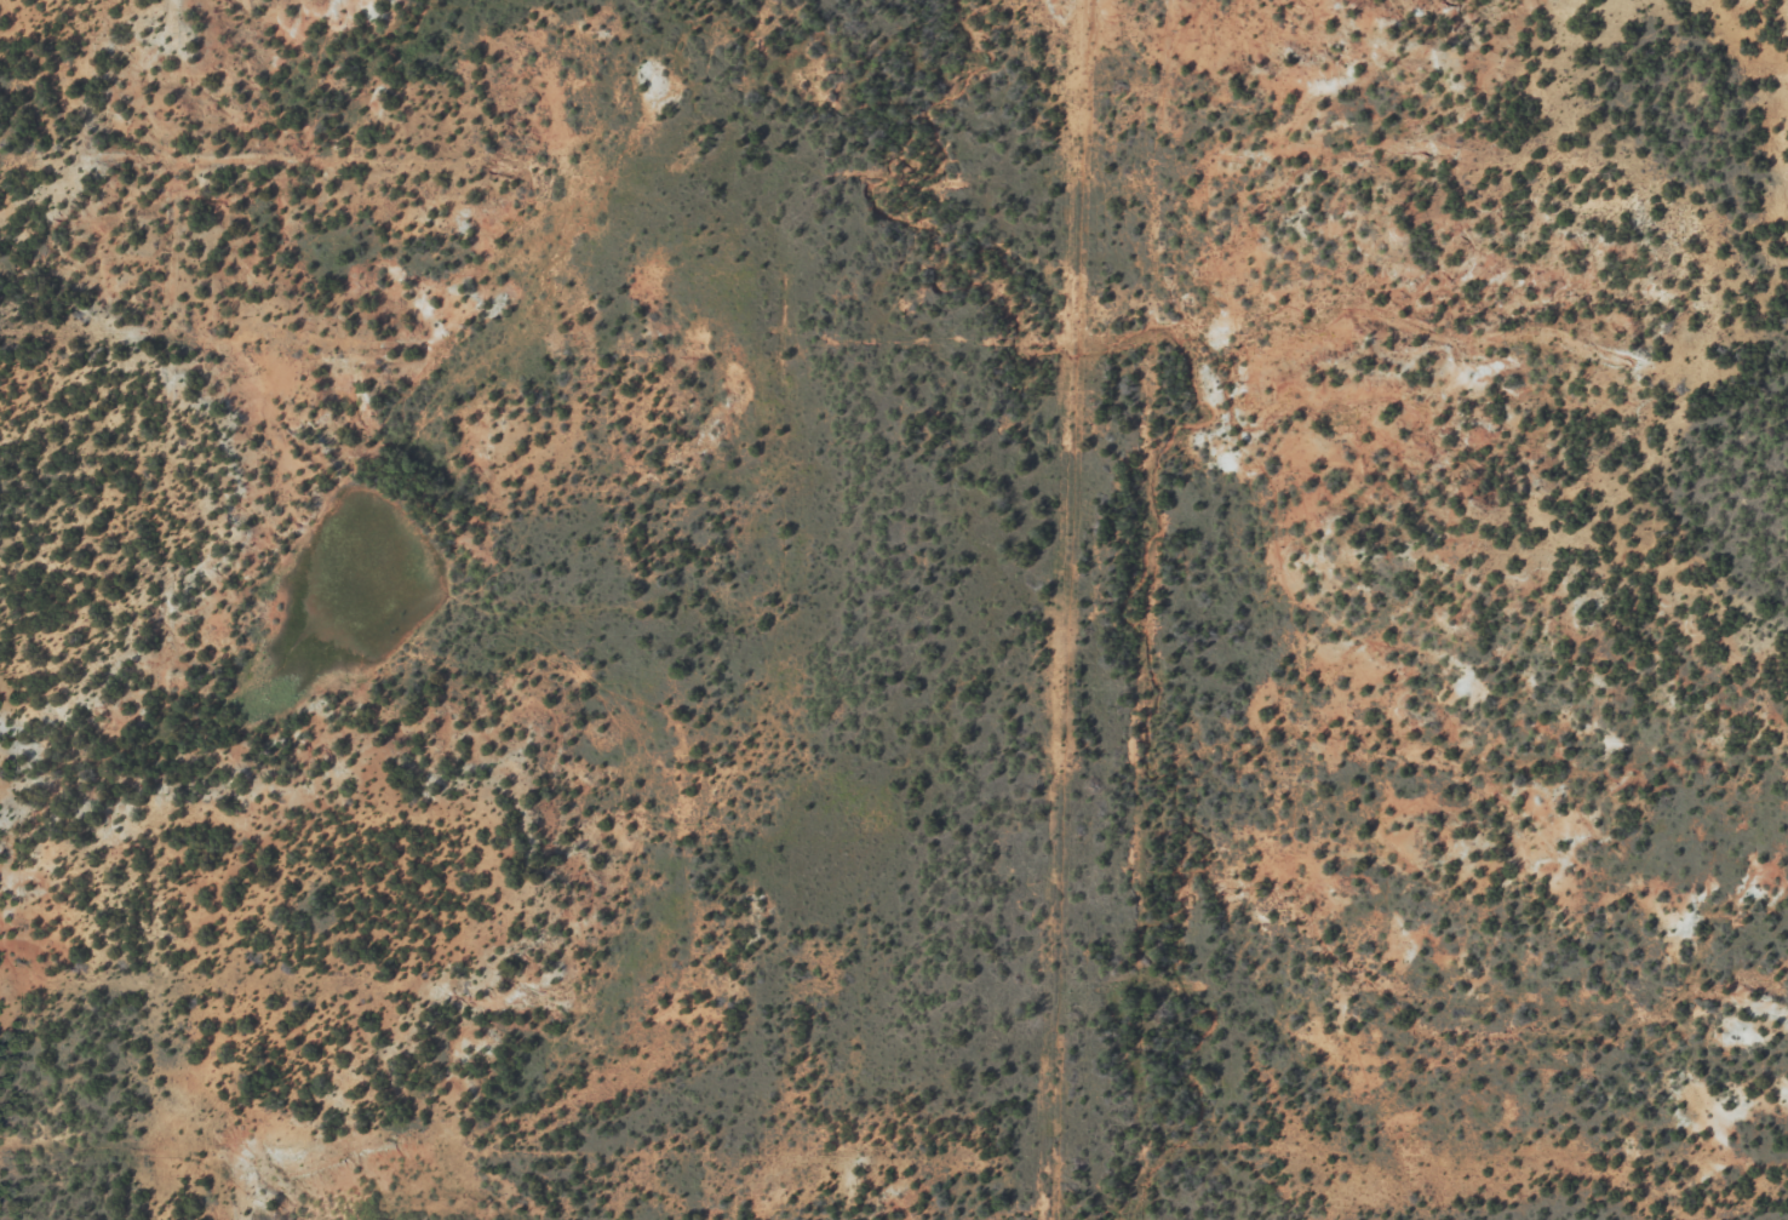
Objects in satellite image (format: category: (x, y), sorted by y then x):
road: (114, 1042)

